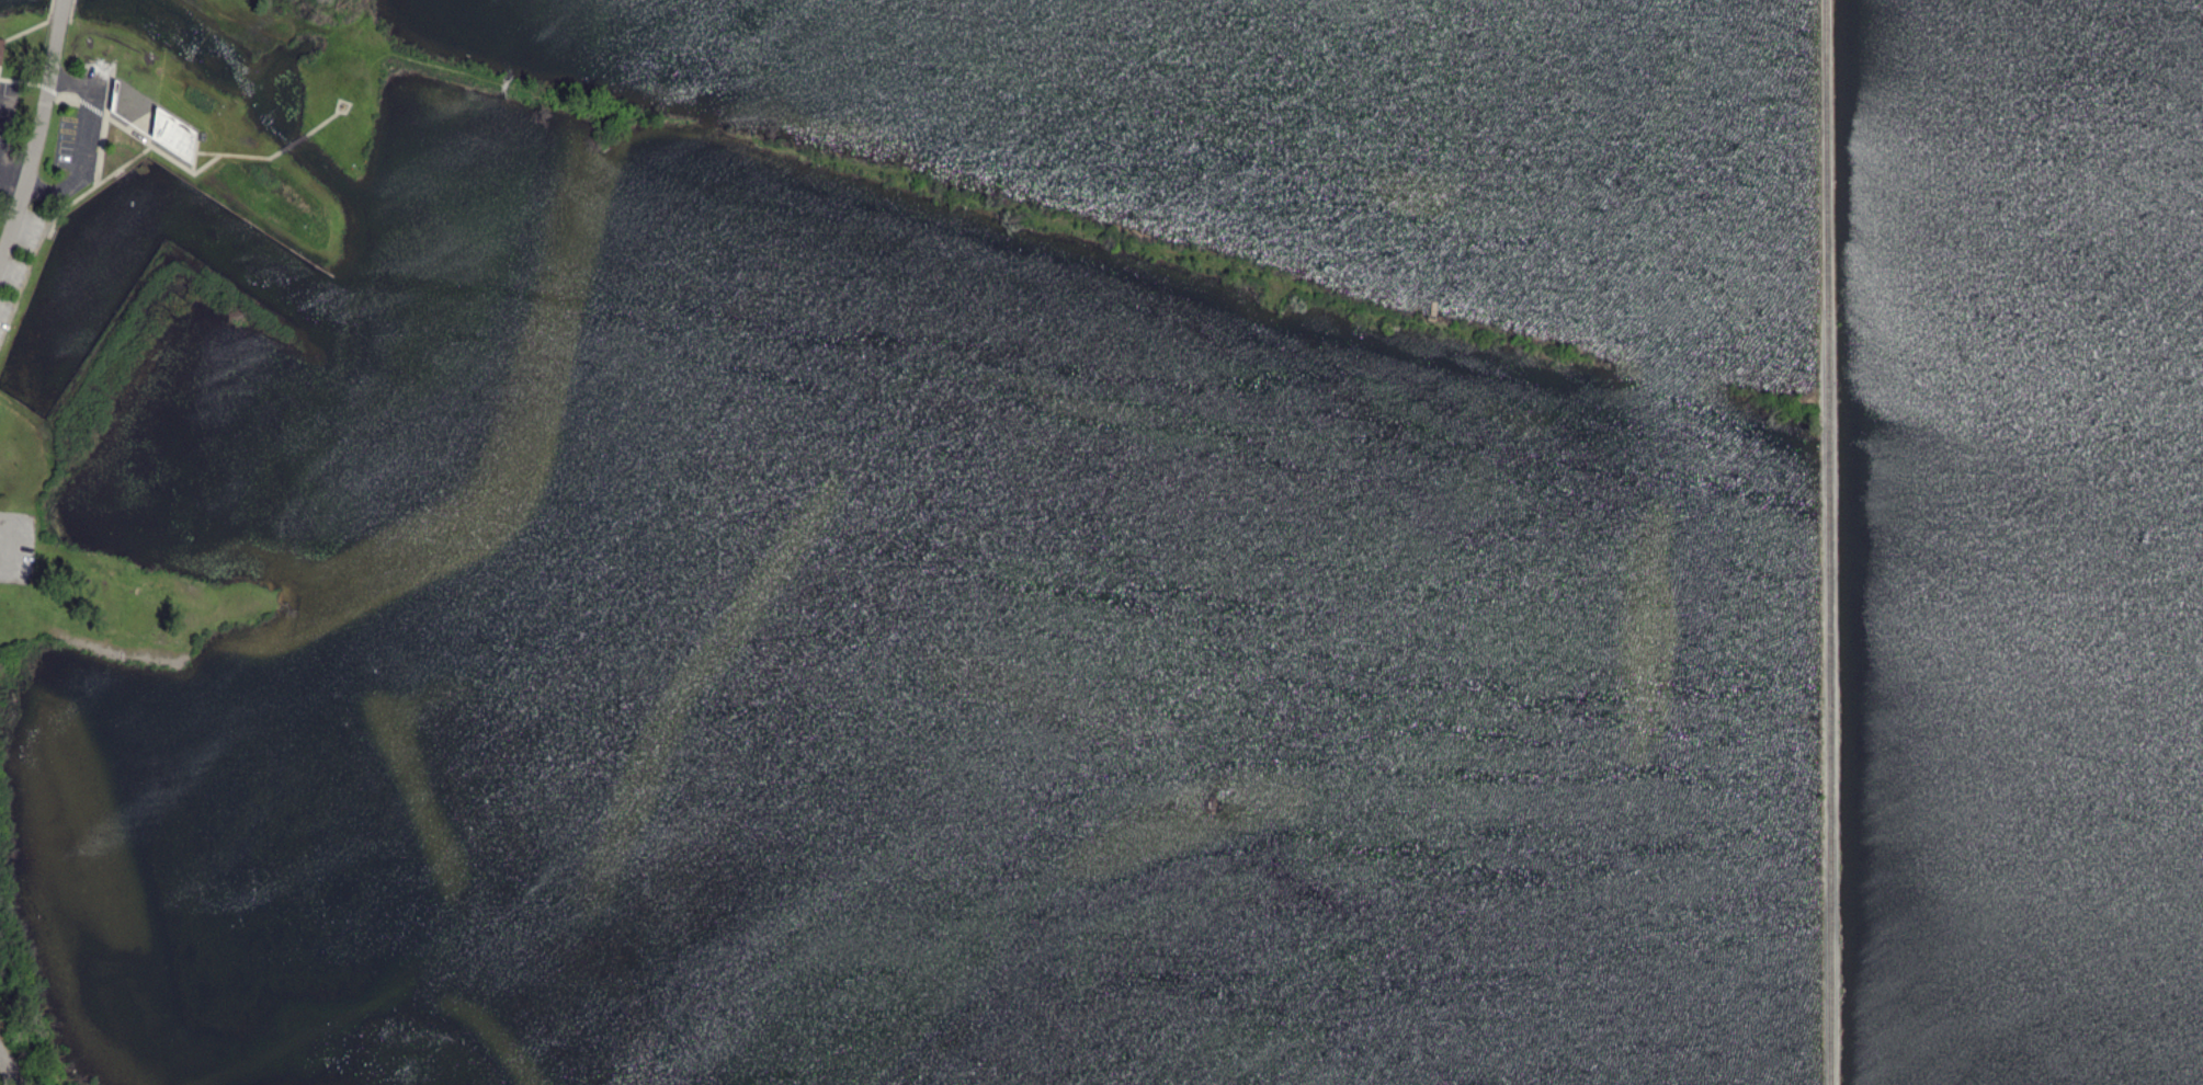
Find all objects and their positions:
road: (48, 9)
road: (61, 11)
road: (14, 37)
building: (1, 46)
road: (69, 83)
parking lot: (106, 88)
building: (113, 94)
parking lot: (7, 111)
road: (321, 122)
building: (171, 128)
road: (35, 138)
road: (294, 140)
parking lot: (78, 146)
road: (155, 151)
road: (73, 158)
road: (9, 196)
railway: (1829, 541)
road: (8, 542)
park: (1101, 542)
parking lot: (15, 545)
road: (2, 573)
road: (9, 1066)
road: (18, 1077)

